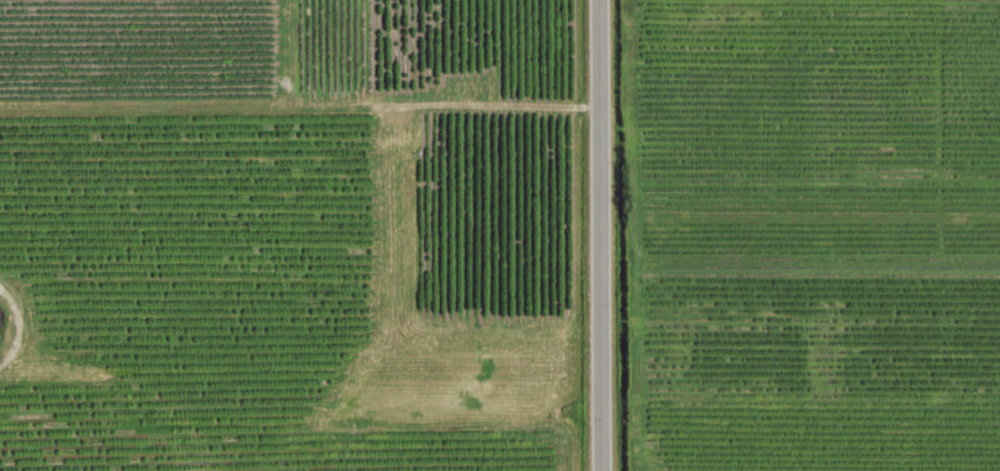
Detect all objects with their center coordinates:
road: (300, 102)
road: (601, 235)
road: (22, 322)

